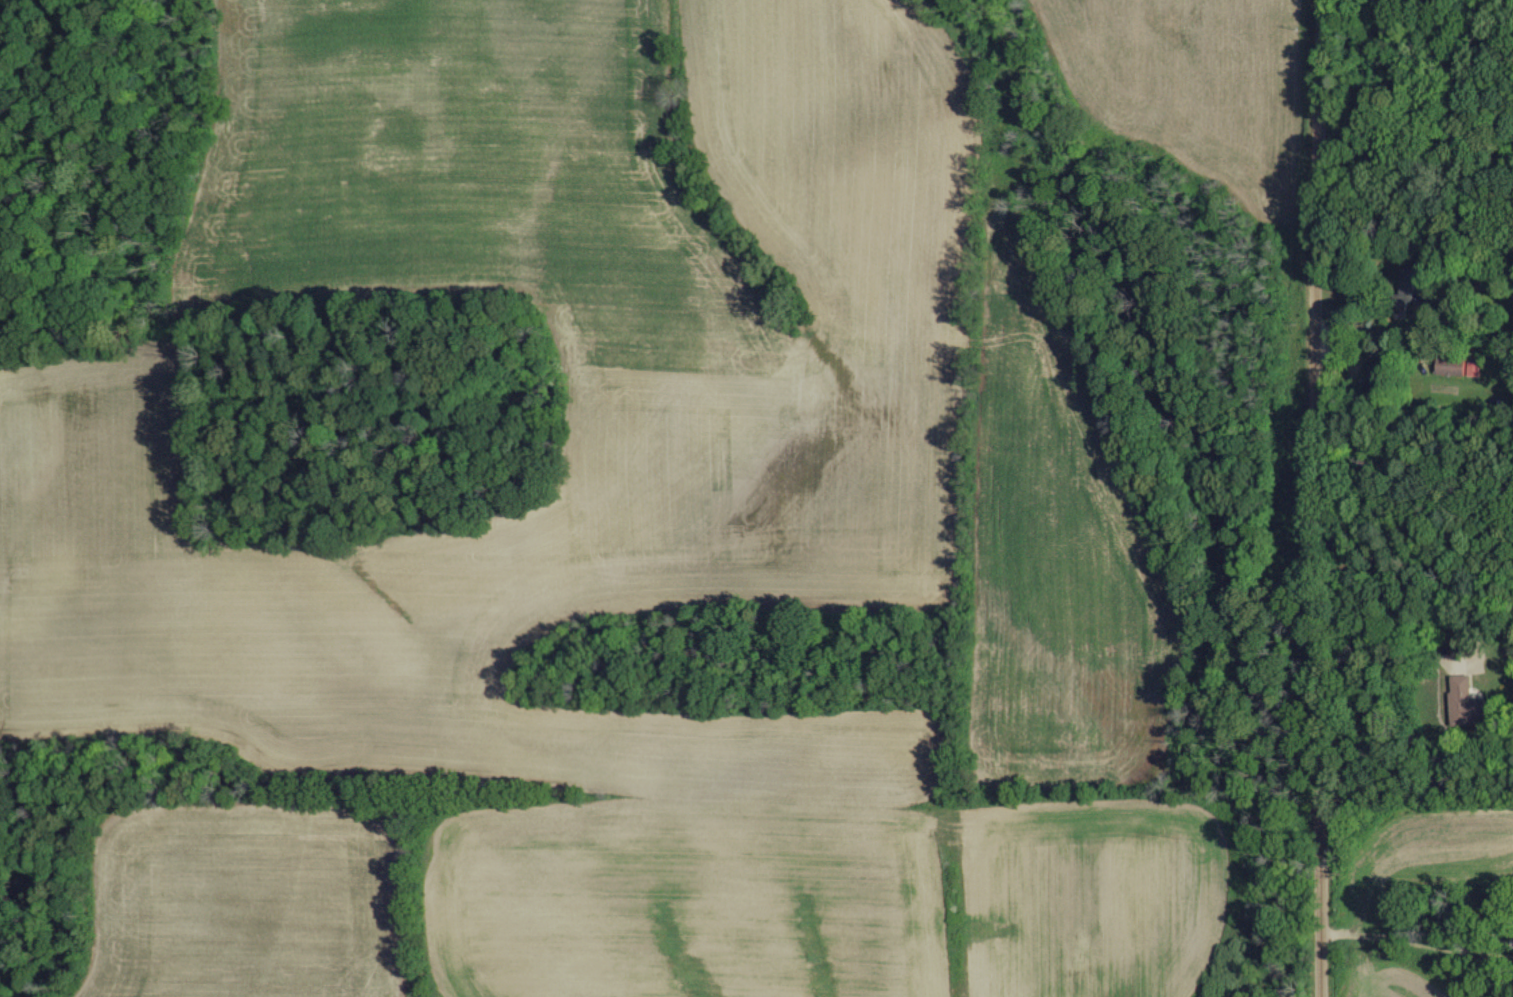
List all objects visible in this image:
building: (1410, 285)
road: (1416, 324)
building: (1451, 364)
building: (1376, 375)
road: (1320, 498)
road: (1446, 665)
building: (1466, 701)
building: (1512, 925)

